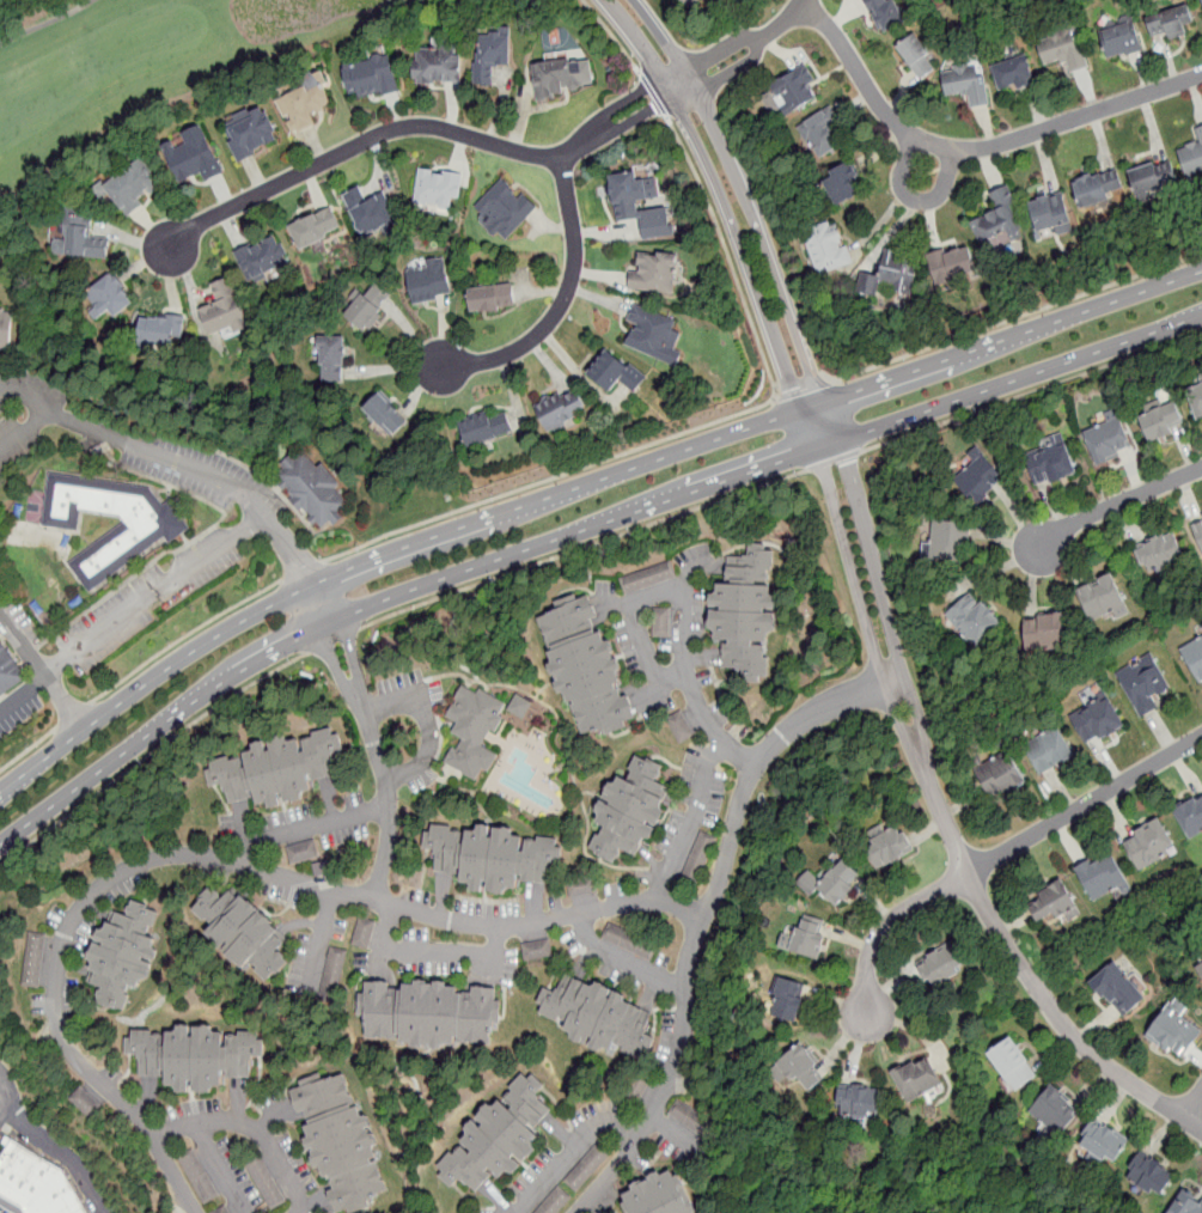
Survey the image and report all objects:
building: (1201, 0)
building: (691, 4)
building: (884, 13)
road: (45, 22)
building: (1171, 22)
road: (612, 35)
building: (1119, 39)
road: (748, 47)
building: (1062, 50)
building: (490, 56)
building: (916, 56)
building: (437, 65)
park: (139, 67)
building: (1013, 73)
building: (370, 75)
building: (562, 77)
building: (965, 85)
road: (653, 92)
building: (792, 92)
building: (305, 102)
road: (422, 126)
building: (251, 132)
building: (820, 132)
road: (976, 147)
building: (191, 157)
building: (1192, 157)
building: (1154, 176)
building: (842, 183)
building: (133, 187)
building: (1091, 188)
building: (437, 190)
building: (629, 195)
building: (504, 211)
building: (370, 213)
building: (1050, 213)
road: (740, 214)
building: (997, 219)
building: (657, 223)
building: (315, 228)
building: (80, 238)
building: (826, 249)
road: (727, 254)
building: (262, 260)
building: (952, 264)
building: (653, 273)
building: (892, 275)
building: (428, 282)
building: (110, 298)
road: (563, 298)
building: (490, 299)
building: (364, 307)
building: (221, 313)
road: (1017, 317)
building: (5, 330)
building: (161, 331)
building: (652, 335)
building: (331, 361)
building: (615, 372)
road: (804, 390)
road: (1030, 391)
road: (25, 394)
building: (1197, 401)
building: (561, 410)
building: (384, 414)
building: (1163, 422)
building: (487, 428)
building: (1052, 439)
building: (1109, 441)
road: (171, 461)
road: (834, 461)
building: (1052, 465)
road: (549, 479)
building: (980, 481)
road: (578, 489)
building: (313, 492)
road: (1117, 502)
building: (1198, 531)
road: (576, 532)
building: (145, 536)
building: (948, 541)
road: (584, 545)
building: (1160, 554)
road: (301, 568)
building: (670, 572)
building: (661, 574)
building: (653, 578)
building: (645, 580)
building: (636, 584)
building: (628, 586)
road: (155, 593)
building: (1103, 599)
road: (683, 605)
parking lot: (134, 614)
building: (663, 615)
building: (745, 615)
building: (975, 621)
building: (661, 624)
building: (661, 634)
building: (1047, 634)
road: (185, 636)
road: (332, 636)
building: (1195, 658)
road: (43, 670)
building: (585, 670)
building: (7, 673)
building: (1145, 684)
road: (25, 697)
building: (520, 708)
road: (74, 713)
parking lot: (22, 720)
road: (427, 720)
building: (677, 720)
building: (1099, 724)
building: (682, 729)
building: (474, 732)
road: (372, 737)
building: (685, 737)
road: (28, 748)
road: (150, 752)
building: (1049, 752)
road: (757, 764)
building: (275, 772)
building: (1000, 776)
building: (630, 812)
building: (1191, 821)
road: (691, 827)
road: (311, 829)
road: (948, 829)
building: (708, 841)
building: (1151, 847)
building: (704, 849)
building: (890, 851)
building: (312, 852)
road: (1001, 853)
building: (304, 854)
building: (294, 857)
road: (210, 858)
building: (701, 858)
building: (490, 859)
building: (696, 866)
building: (692, 874)
building: (1104, 880)
building: (689, 883)
building: (840, 886)
building: (591, 888)
building: (582, 890)
building: (574, 891)
building: (1055, 904)
building: (366, 926)
building: (242, 934)
building: (610, 934)
building: (364, 935)
building: (618, 938)
building: (37, 939)
building: (810, 939)
building: (626, 941)
road: (321, 945)
building: (361, 945)
building: (634, 945)
building: (36, 949)
building: (547, 950)
building: (642, 950)
building: (537, 952)
road: (432, 953)
building: (527, 953)
building: (651, 953)
building: (124, 955)
building: (338, 955)
building: (35, 957)
road: (620, 962)
building: (336, 964)
building: (33, 967)
building: (941, 968)
building: (1200, 971)
building: (334, 973)
building: (32, 975)
building: (332, 982)
building: (30, 983)
building: (330, 990)
building: (1119, 992)
building: (328, 1000)
building: (788, 1001)
building: (428, 1016)
building: (596, 1016)
building: (1176, 1035)
building: (194, 1060)
building: (1013, 1068)
building: (801, 1069)
road: (671, 1074)
building: (642, 1081)
building: (919, 1084)
building: (637, 1090)
road: (7, 1095)
building: (78, 1098)
building: (634, 1098)
road: (1191, 1102)
building: (85, 1105)
building: (860, 1105)
building: (92, 1111)
building: (677, 1111)
building: (1056, 1114)
building: (685, 1116)
building: (692, 1121)
building: (700, 1126)
road: (251, 1127)
building: (708, 1130)
road: (677, 1135)
building: (715, 1136)
building: (498, 1141)
building: (341, 1144)
building: (1104, 1144)
road: (572, 1151)
building: (603, 1151)
road: (65, 1152)
building: (598, 1158)
building: (187, 1159)
building: (254, 1165)
building: (592, 1165)
building: (191, 1166)
road: (221, 1169)
building: (258, 1172)
building: (586, 1172)
building: (195, 1175)
building: (1149, 1177)
building: (579, 1178)
building: (37, 1181)
building: (263, 1181)
building: (200, 1182)
building: (574, 1185)
building: (268, 1189)
building: (205, 1190)
building: (271, 1196)
building: (563, 1197)
building: (209, 1199)
building: (661, 1199)
building: (556, 1203)
building: (276, 1205)
building: (1188, 1206)
building: (548, 1208)
building: (222, 1211)
building: (541, 1211)

